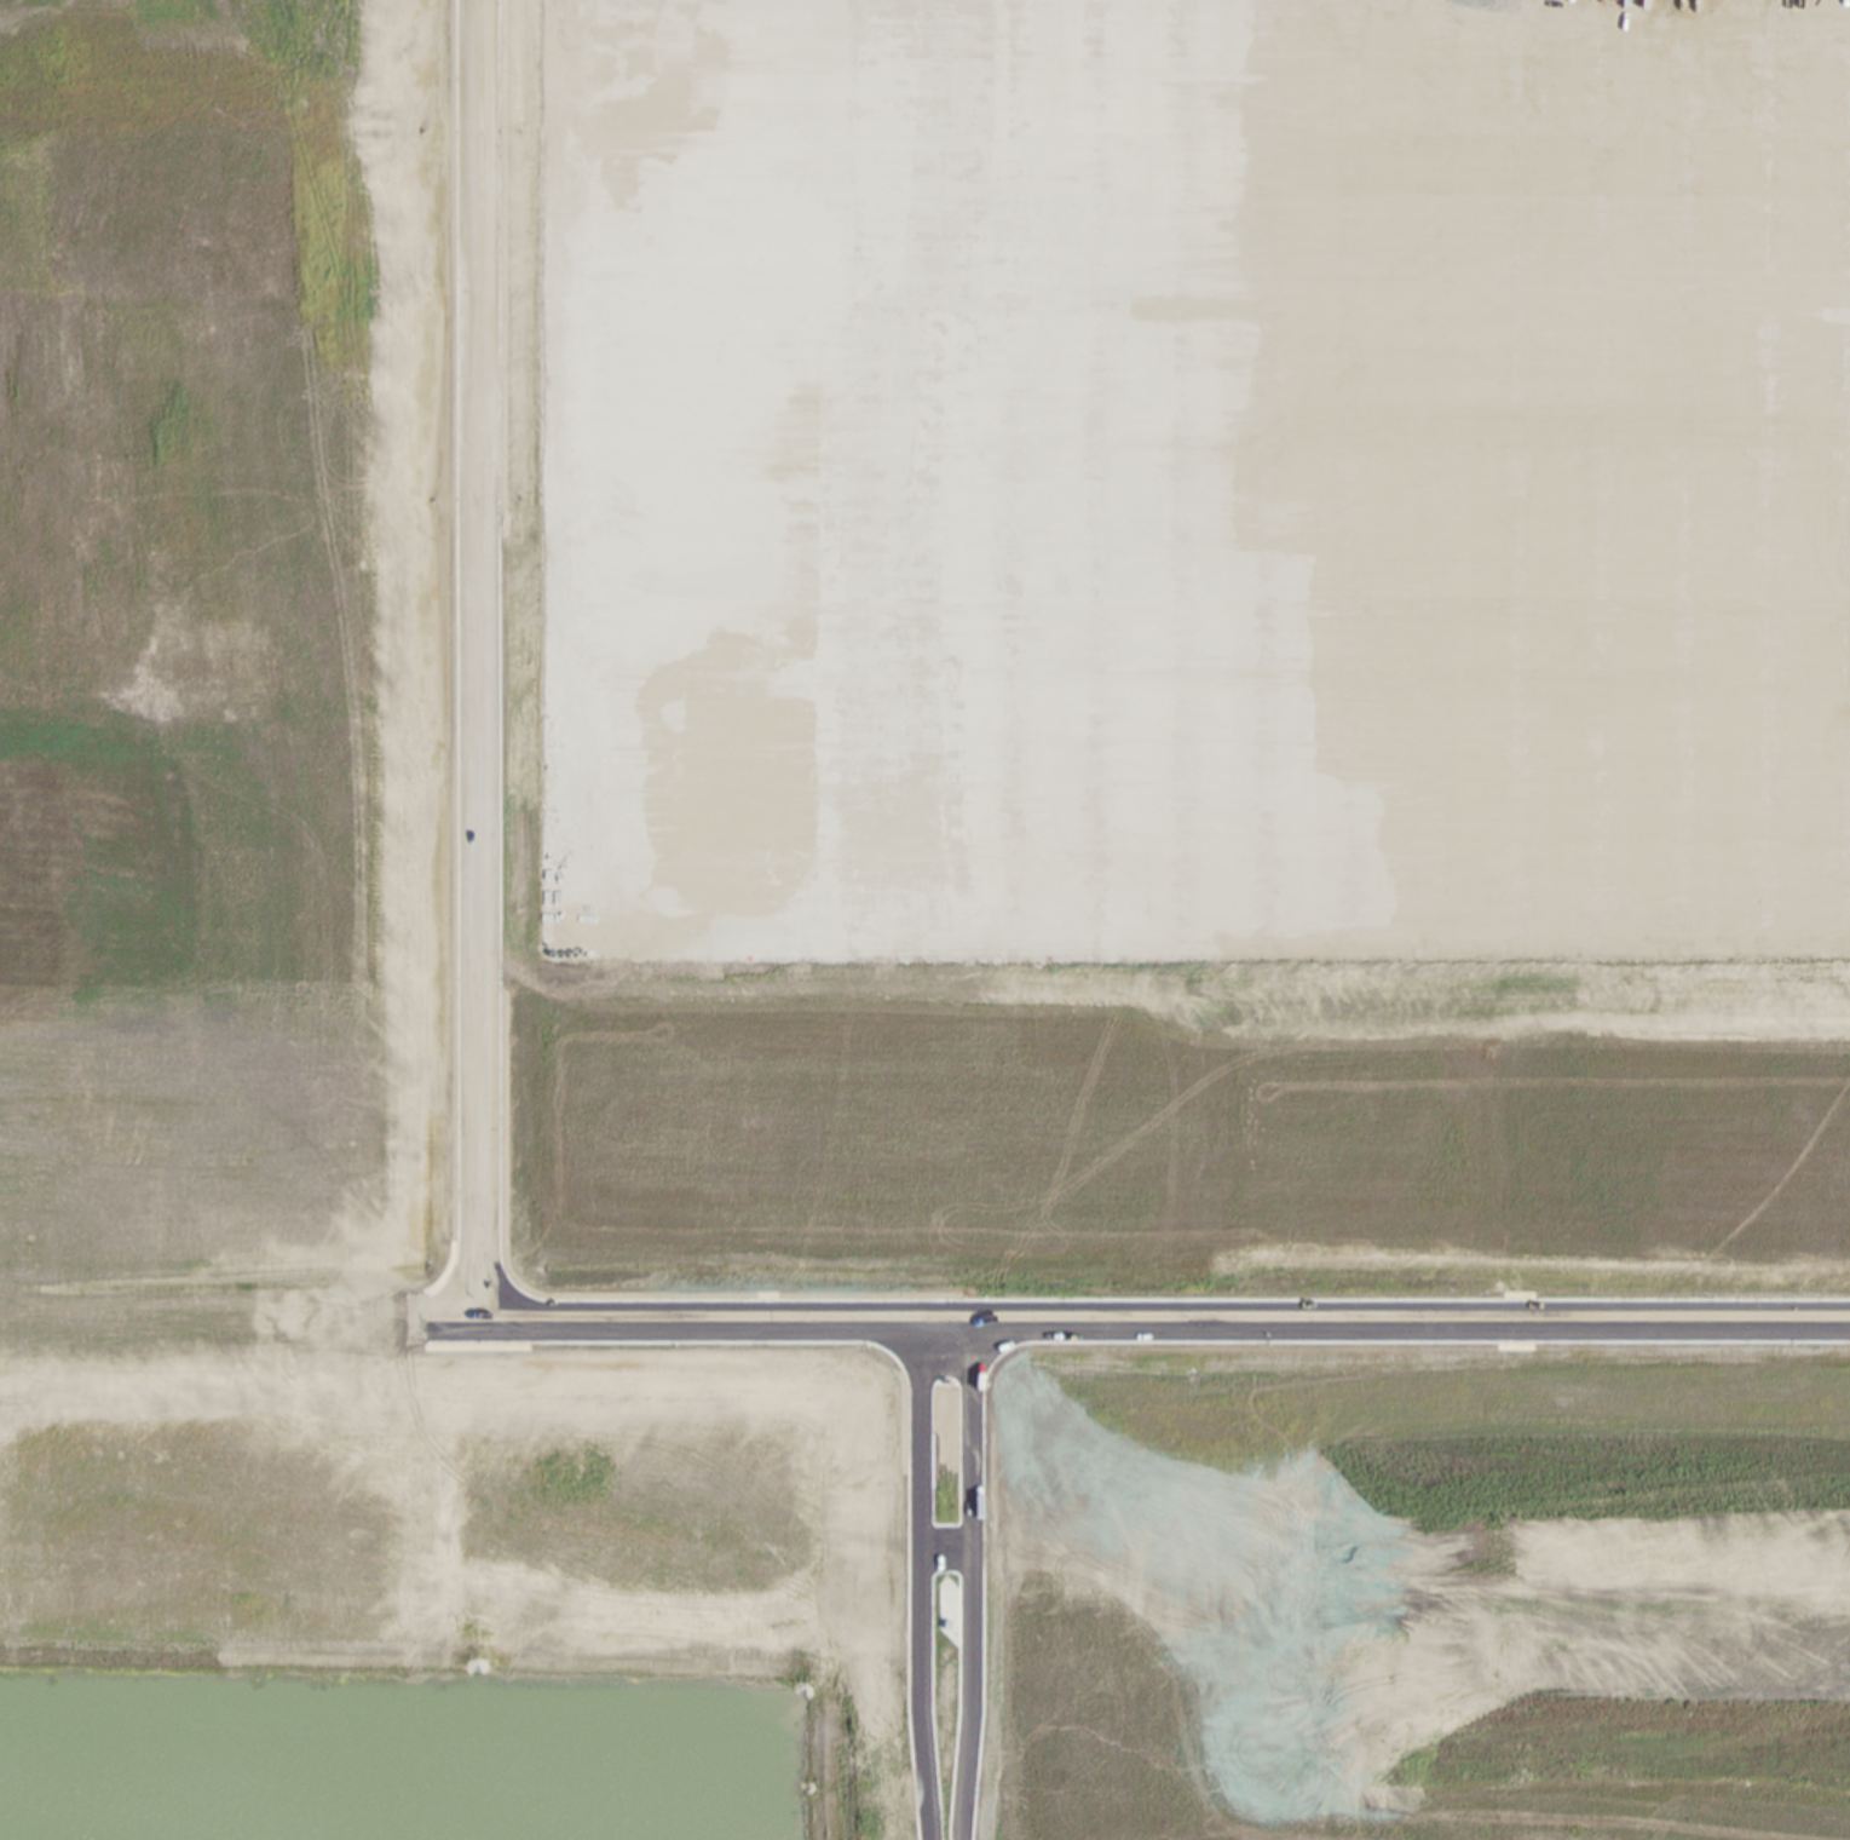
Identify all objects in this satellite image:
road: (479, 662)
road: (1133, 1322)
road: (945, 1551)
road: (970, 1581)
road: (920, 1582)

